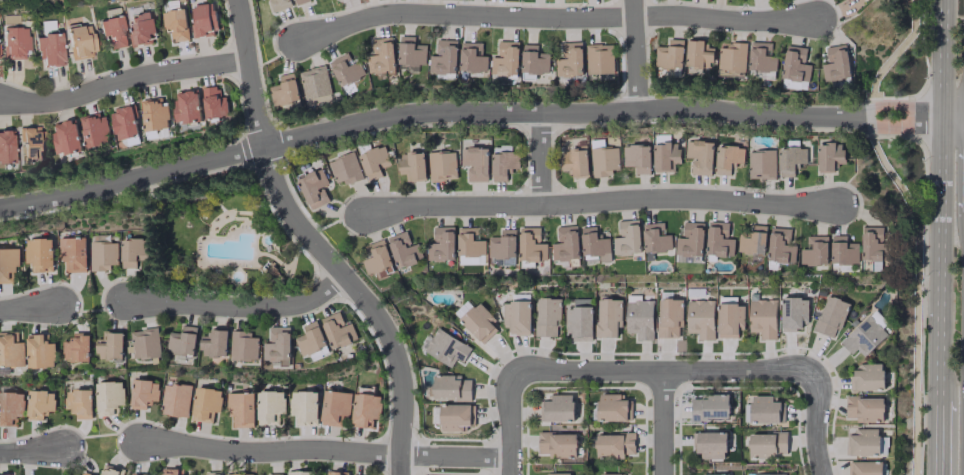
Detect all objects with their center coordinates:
building: (299, 1)
building: (278, 4)
road: (558, 16)
building: (202, 20)
building: (175, 23)
building: (141, 27)
building: (113, 32)
building: (79, 41)
building: (13, 42)
building: (49, 49)
building: (411, 51)
road: (638, 54)
building: (669, 54)
building: (698, 55)
building: (381, 56)
building: (732, 56)
building: (444, 57)
building: (472, 57)
building: (761, 57)
building: (569, 58)
building: (506, 59)
building: (600, 59)
building: (534, 60)
building: (835, 63)
building: (795, 64)
building: (346, 69)
road: (123, 81)
building: (315, 85)
building: (284, 90)
building: (214, 103)
building: (186, 106)
road: (476, 113)
building: (154, 115)
building: (124, 123)
building: (95, 130)
building: (66, 137)
building: (29, 142)
building: (5, 145)
building: (664, 156)
building: (699, 156)
building: (828, 156)
building: (636, 157)
building: (726, 158)
road: (544, 159)
building: (791, 159)
building: (604, 160)
building: (373, 161)
building: (574, 161)
building: (474, 162)
building: (502, 164)
building: (760, 164)
building: (442, 165)
building: (412, 166)
building: (344, 168)
building: (313, 187)
road: (940, 197)
road: (606, 202)
building: (627, 237)
building: (656, 238)
building: (690, 239)
building: (718, 240)
building: (752, 240)
building: (566, 243)
building: (872, 243)
road: (314, 244)
building: (441, 244)
building: (471, 244)
building: (503, 244)
building: (595, 244)
building: (531, 245)
building: (780, 246)
building: (403, 250)
building: (843, 250)
building: (132, 251)
building: (814, 251)
building: (38, 253)
building: (72, 253)
building: (103, 255)
building: (376, 255)
building: (7, 265)
road: (239, 305)
road: (30, 309)
building: (793, 312)
building: (830, 315)
building: (547, 316)
building: (516, 317)
building: (607, 317)
building: (668, 317)
building: (762, 317)
building: (699, 318)
building: (728, 318)
building: (578, 319)
building: (639, 319)
building: (475, 320)
building: (338, 330)
building: (863, 336)
building: (310, 339)
building: (183, 341)
building: (145, 343)
building: (214, 343)
building: (277, 344)
building: (244, 345)
building: (110, 346)
building: (77, 347)
building: (445, 347)
building: (11, 350)
building: (40, 351)
road: (663, 370)
building: (867, 377)
building: (451, 387)
building: (143, 393)
building: (108, 397)
building: (174, 400)
building: (78, 402)
building: (38, 403)
building: (205, 403)
building: (268, 404)
building: (709, 406)
building: (10, 407)
building: (303, 407)
building: (334, 407)
building: (611, 407)
building: (240, 408)
building: (556, 408)
building: (864, 408)
building: (365, 409)
building: (764, 409)
building: (454, 417)
road: (662, 422)
road: (814, 422)
road: (510, 423)
road: (937, 435)
building: (863, 441)
building: (557, 444)
building: (766, 444)
building: (614, 445)
building: (710, 445)
road: (324, 450)
road: (33, 452)
building: (864, 468)
building: (111, 470)
building: (171, 471)
building: (301, 472)
building: (84, 473)
building: (213, 473)
building: (3, 474)
building: (138, 474)
building: (240, 474)
building: (273, 474)
building: (335, 474)
building: (557, 474)
building: (608, 474)
building: (714, 474)
building: (769, 474)

